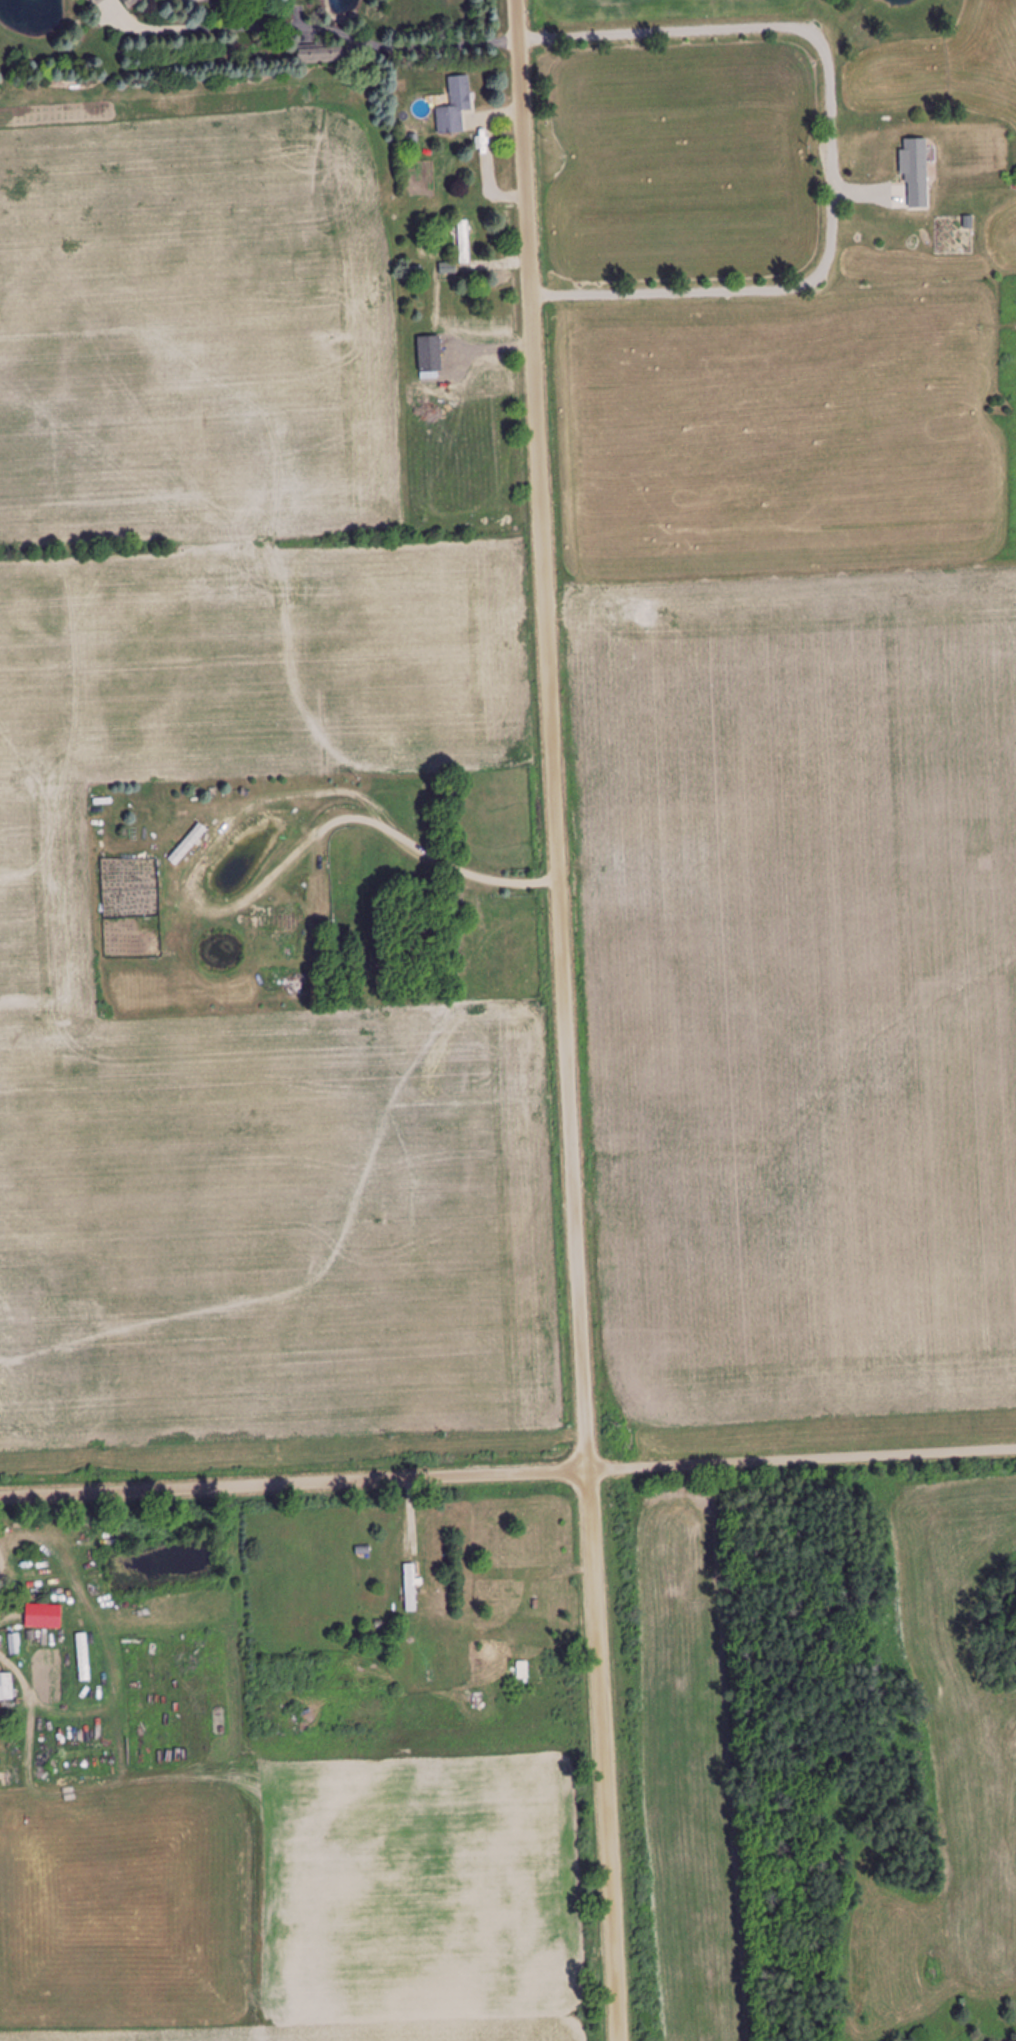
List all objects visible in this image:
building: (321, 55)
building: (455, 106)
building: (915, 161)
building: (464, 242)
building: (446, 268)
building: (429, 354)
building: (336, 939)
road: (558, 1020)
road: (507, 1475)
building: (509, 1582)
building: (410, 1588)
building: (14, 1645)
building: (6, 1686)

